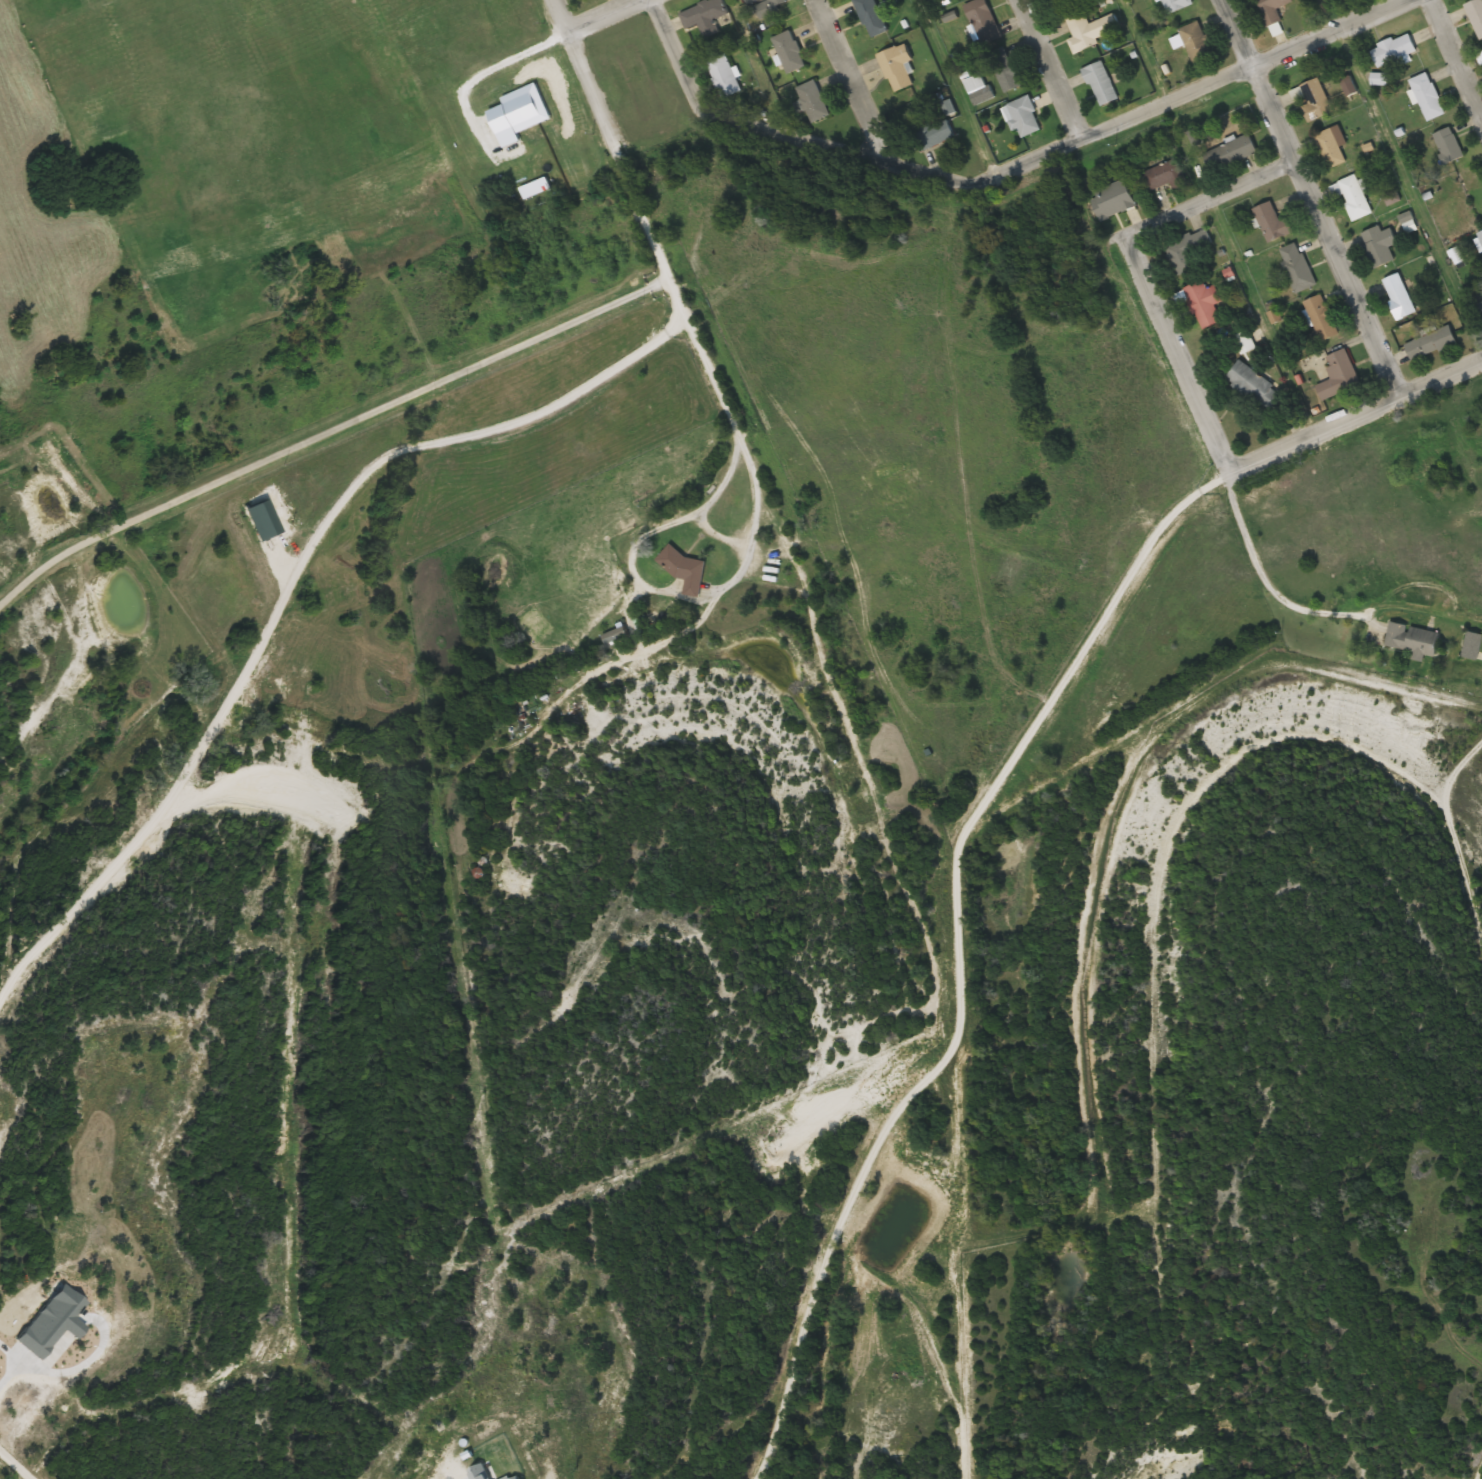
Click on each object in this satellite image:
building: (767, 4)
building: (1176, 5)
building: (977, 8)
building: (1272, 10)
road: (559, 15)
road: (602, 15)
building: (704, 15)
building: (1476, 15)
building: (872, 17)
building: (1082, 33)
building: (1196, 41)
building: (789, 51)
building: (1394, 51)
building: (1480, 57)
road: (1454, 63)
building: (898, 67)
road: (1049, 68)
building: (1005, 69)
building: (724, 75)
road: (849, 81)
building: (1101, 84)
building: (979, 89)
building: (1428, 96)
building: (1315, 100)
building: (814, 101)
road: (1149, 108)
building: (1022, 117)
road: (732, 119)
building: (934, 134)
building: (1449, 146)
building: (1331, 147)
building: (1236, 151)
building: (1167, 176)
road: (1208, 197)
road: (1311, 197)
building: (1354, 197)
building: (1115, 199)
building: (1274, 223)
road: (646, 226)
building: (1480, 237)
building: (1380, 245)
building: (1191, 249)
building: (1298, 267)
building: (1399, 296)
building: (1206, 304)
building: (1480, 307)
building: (1323, 319)
building: (1432, 343)
road: (1172, 350)
building: (1342, 367)
building: (1253, 383)
road: (1353, 416)
road: (754, 511)
building: (685, 570)
road: (1263, 582)
building: (1413, 640)
building: (1473, 646)
road: (1465, 759)

